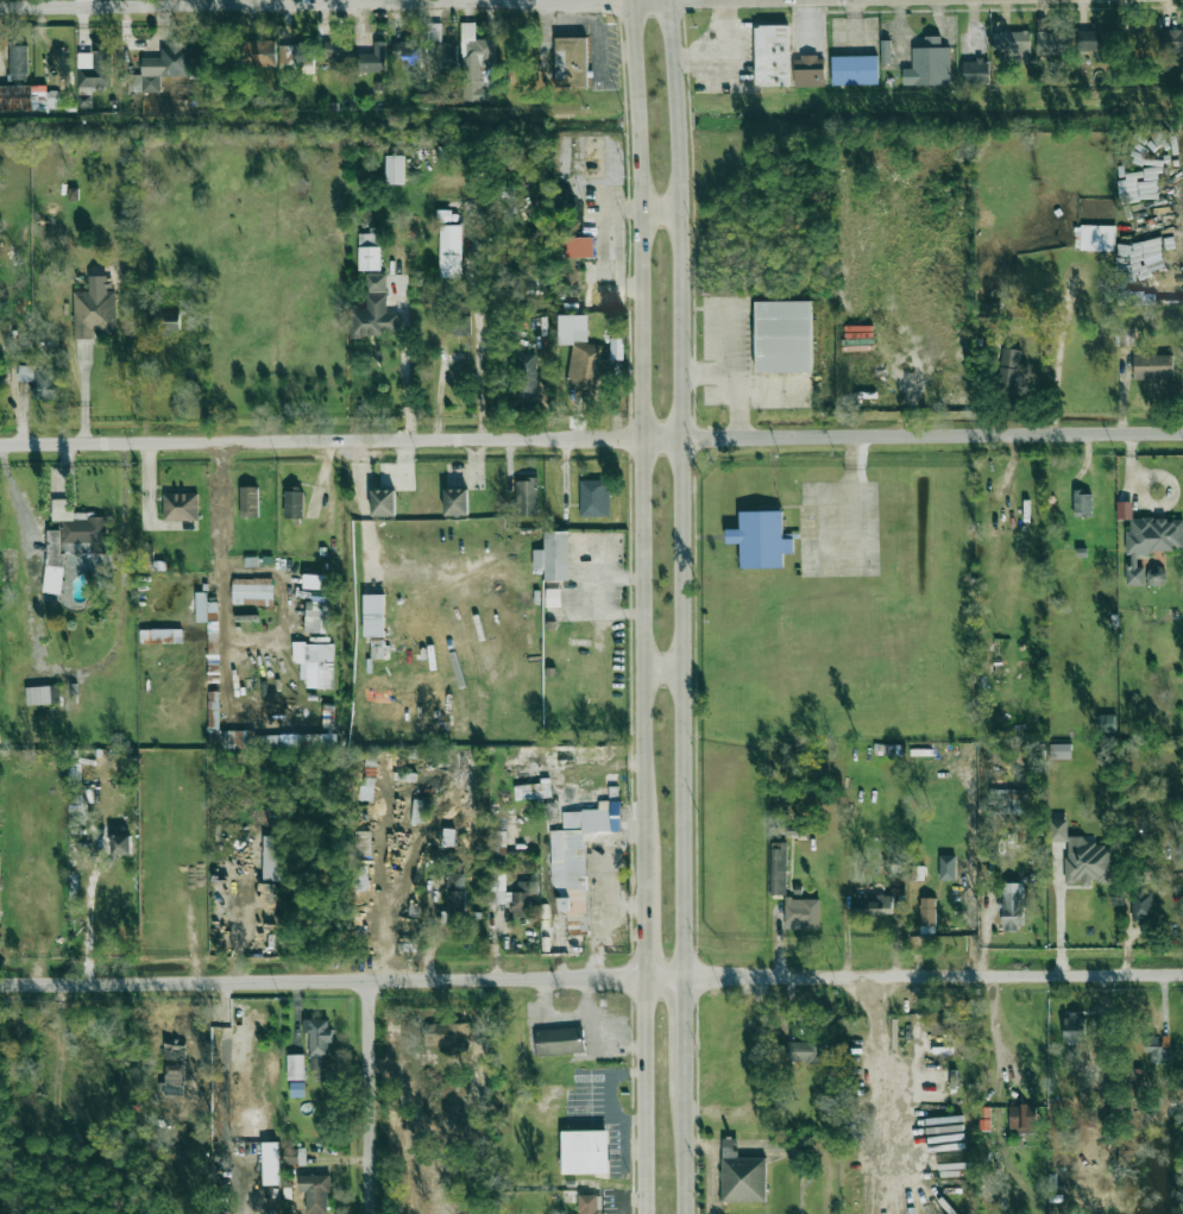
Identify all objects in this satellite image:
road: (260, 2)
road: (725, 13)
road: (855, 19)
road: (807, 25)
road: (973, 26)
road: (899, 31)
road: (854, 38)
building: (1052, 40)
building: (1091, 40)
building: (1171, 40)
road: (944, 42)
building: (1013, 44)
building: (441, 49)
building: (886, 51)
building: (258, 54)
building: (296, 54)
building: (407, 55)
building: (772, 56)
building: (338, 57)
building: (372, 59)
road: (688, 61)
building: (18, 62)
building: (571, 62)
building: (474, 63)
building: (929, 64)
building: (95, 67)
road: (732, 67)
building: (159, 68)
building: (808, 70)
building: (854, 70)
building: (975, 71)
building: (29, 98)
building: (394, 169)
road: (661, 213)
building: (1097, 238)
building: (579, 246)
building: (370, 250)
building: (449, 251)
building: (376, 282)
building: (94, 313)
building: (373, 317)
building: (452, 322)
building: (164, 323)
road: (477, 326)
building: (782, 336)
building: (1126, 336)
building: (579, 351)
road: (405, 358)
road: (1057, 359)
building: (1009, 367)
building: (1153, 367)
building: (527, 375)
road: (737, 379)
building: (42, 382)
road: (439, 391)
road: (84, 397)
road: (21, 419)
road: (591, 438)
road: (638, 448)
road: (510, 465)
road: (1128, 470)
road: (565, 472)
road: (149, 484)
road: (681, 488)
road: (1169, 495)
building: (527, 497)
building: (594, 497)
road: (841, 499)
road: (18, 501)
building: (248, 502)
building: (455, 502)
building: (294, 503)
building: (383, 503)
building: (1082, 503)
building: (180, 507)
parking lot: (841, 528)
road: (371, 531)
building: (71, 540)
building: (761, 540)
building: (1151, 542)
building: (552, 556)
building: (1156, 575)
building: (252, 591)
building: (553, 597)
building: (206, 608)
building: (373, 615)
building: (316, 617)
road: (229, 627)
building: (172, 636)
building: (316, 662)
road: (660, 669)
building: (213, 675)
building: (43, 694)
building: (1106, 723)
building: (1059, 750)
building: (531, 791)
building: (1007, 801)
building: (503, 835)
building: (447, 836)
building: (361, 843)
building: (120, 844)
building: (1082, 856)
building: (270, 857)
building: (577, 860)
building: (778, 868)
building: (360, 878)
building: (512, 893)
building: (453, 899)
building: (1140, 904)
building: (871, 905)
building: (1012, 910)
building: (926, 911)
road: (1059, 911)
building: (801, 913)
road: (87, 917)
road: (641, 937)
road: (429, 938)
road: (591, 977)
road: (564, 1017)
road: (990, 1021)
building: (944, 1023)
road: (679, 1026)
building: (1074, 1027)
building: (446, 1033)
road: (605, 1036)
building: (559, 1040)
building: (317, 1043)
building: (1158, 1048)
building: (174, 1051)
building: (804, 1051)
building: (295, 1067)
building: (171, 1078)
road: (883, 1083)
building: (296, 1089)
road: (642, 1095)
road: (371, 1097)
building: (1021, 1118)
road: (680, 1145)
building: (585, 1151)
building: (294, 1156)
building: (741, 1175)
building: (314, 1191)
building: (587, 1203)

